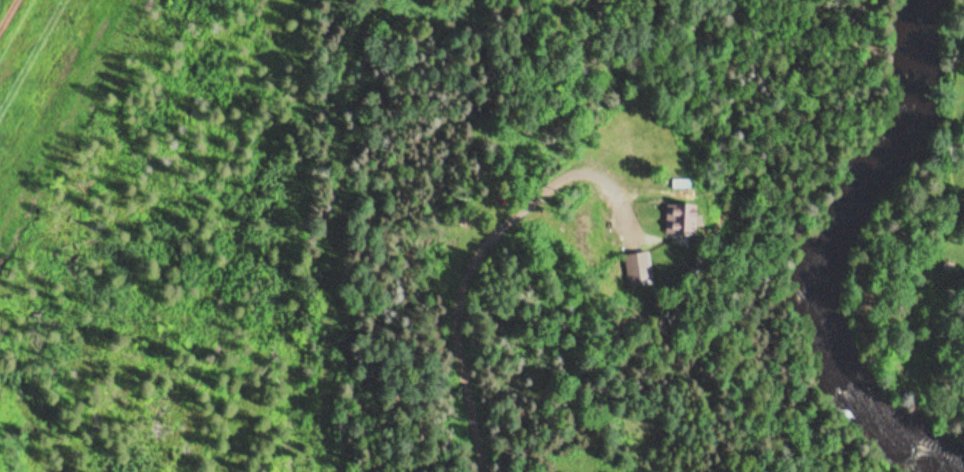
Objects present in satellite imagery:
building: (687, 219)
river: (862, 247)
road: (450, 260)

